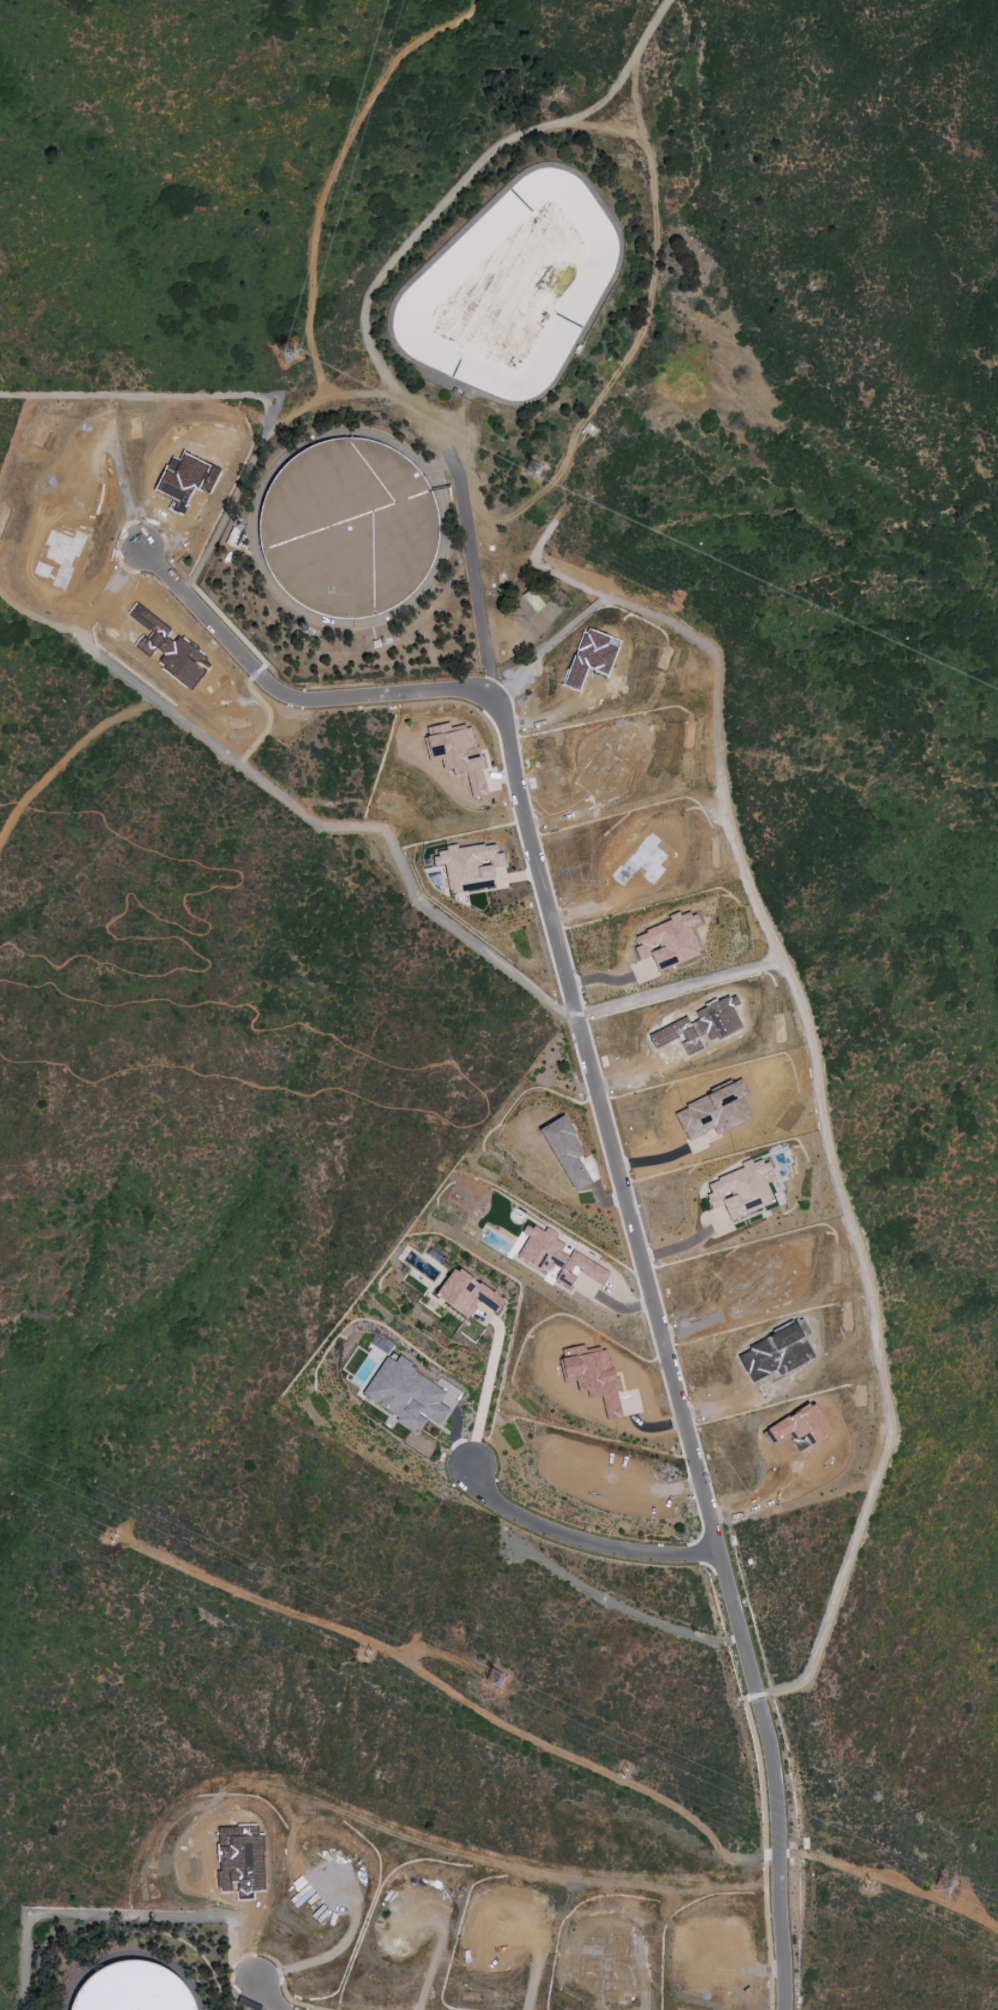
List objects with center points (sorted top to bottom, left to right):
road: (624, 69)
road: (336, 169)
road: (415, 230)
road: (639, 329)
power tower: (293, 357)
road: (146, 390)
road: (266, 428)
road: (447, 439)
power tower: (542, 479)
building: (186, 480)
power tower: (481, 480)
storage tank: (352, 531)
power tower: (670, 600)
building: (590, 656)
road: (284, 694)
road: (66, 756)
road: (297, 808)
building: (469, 866)
building: (669, 940)
road: (610, 979)
road: (677, 987)
building: (700, 1025)
road: (811, 1055)
building: (713, 1112)
building: (565, 1152)
building: (741, 1189)
road: (634, 1236)
road: (685, 1248)
building: (555, 1258)
building: (465, 1293)
building: (775, 1352)
building: (592, 1375)
building: (405, 1394)
road: (485, 1400)
building: (799, 1427)
road: (761, 1504)
road: (584, 1537)
power tower: (109, 1538)
power tower: (364, 1654)
power tower: (498, 1681)
road: (452, 1695)
power tower: (624, 1773)
road: (889, 1878)
power tower: (941, 1886)
power tower: (869, 1888)
road: (76, 1915)
road: (244, 1964)
building: (132, 1989)

